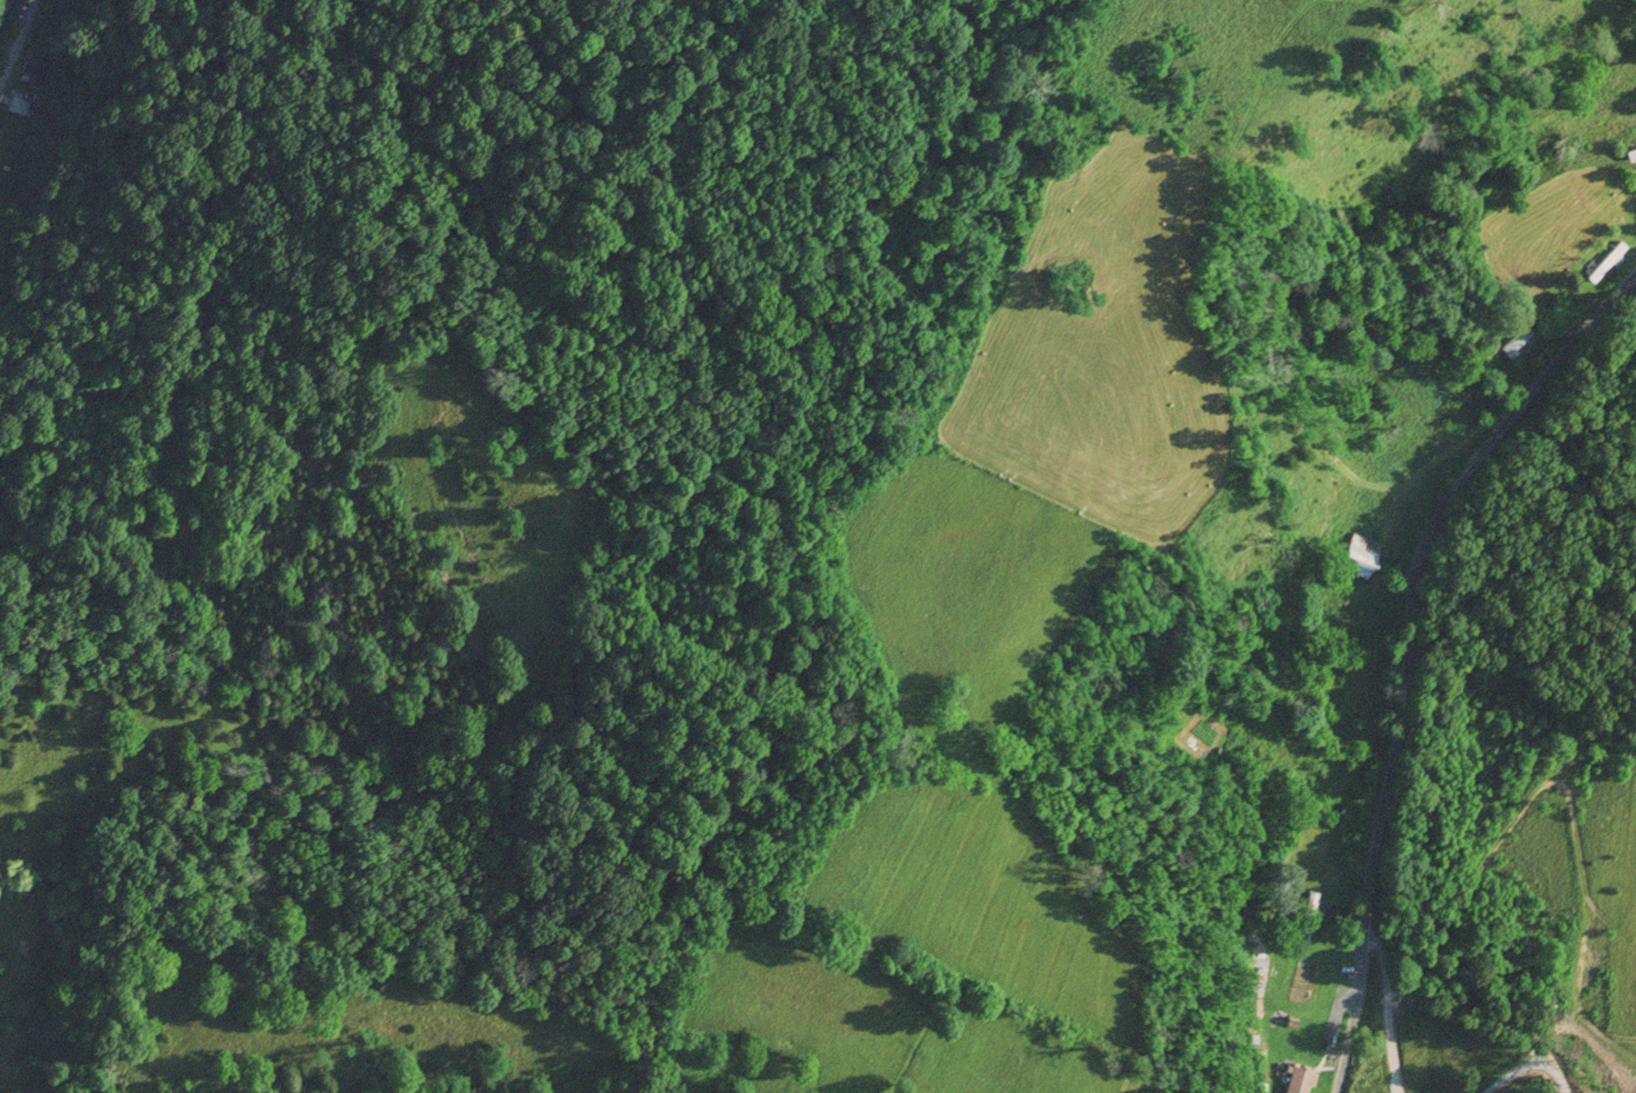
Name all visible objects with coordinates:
road: (17, 39)
building: (44, 69)
building: (22, 106)
building: (1608, 262)
building: (1520, 342)
building: (1467, 354)
building: (1477, 395)
building: (1359, 556)
road: (1410, 649)
road: (1564, 788)
building: (1309, 916)
building: (1255, 1011)
building: (1300, 1080)

